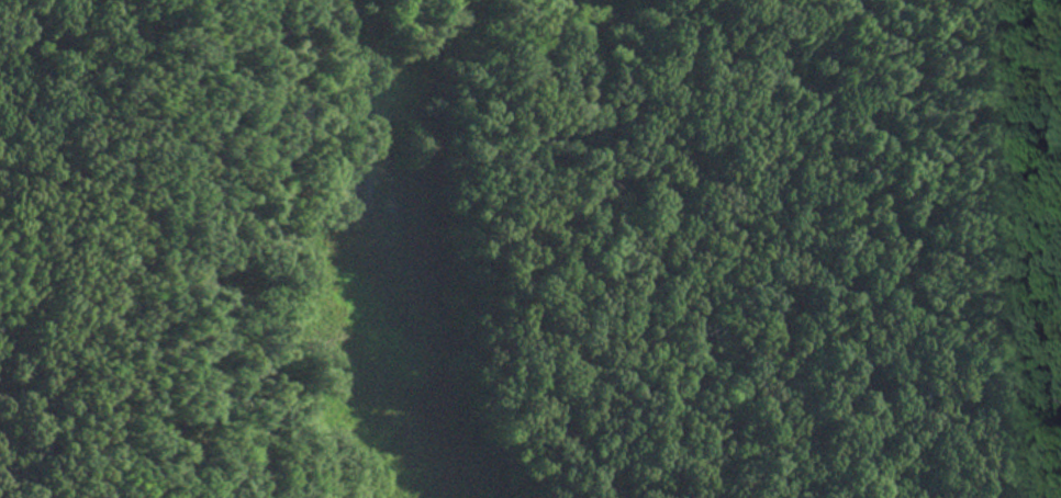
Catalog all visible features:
park: (530, 249)

